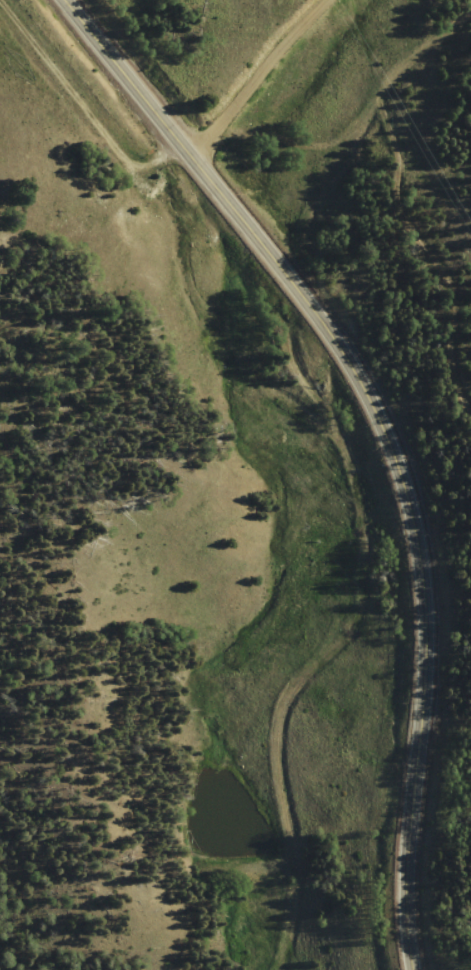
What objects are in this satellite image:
road: (383, 435)
road: (349, 497)

